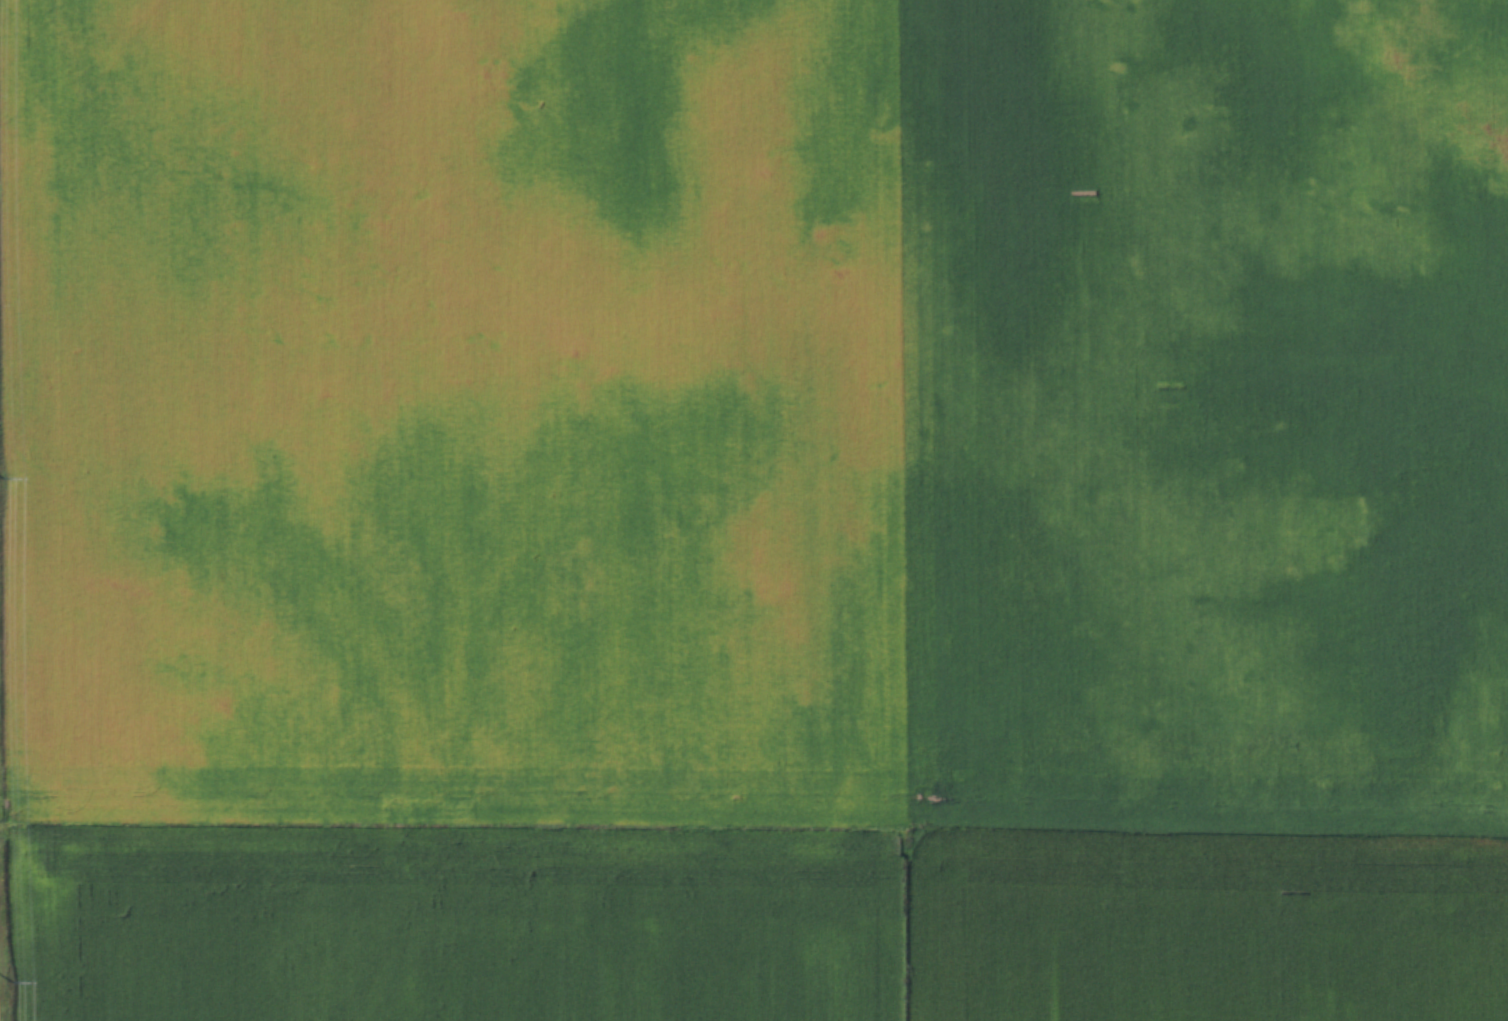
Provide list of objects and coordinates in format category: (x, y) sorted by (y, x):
power tower: (3, 477)
power tower: (12, 981)

